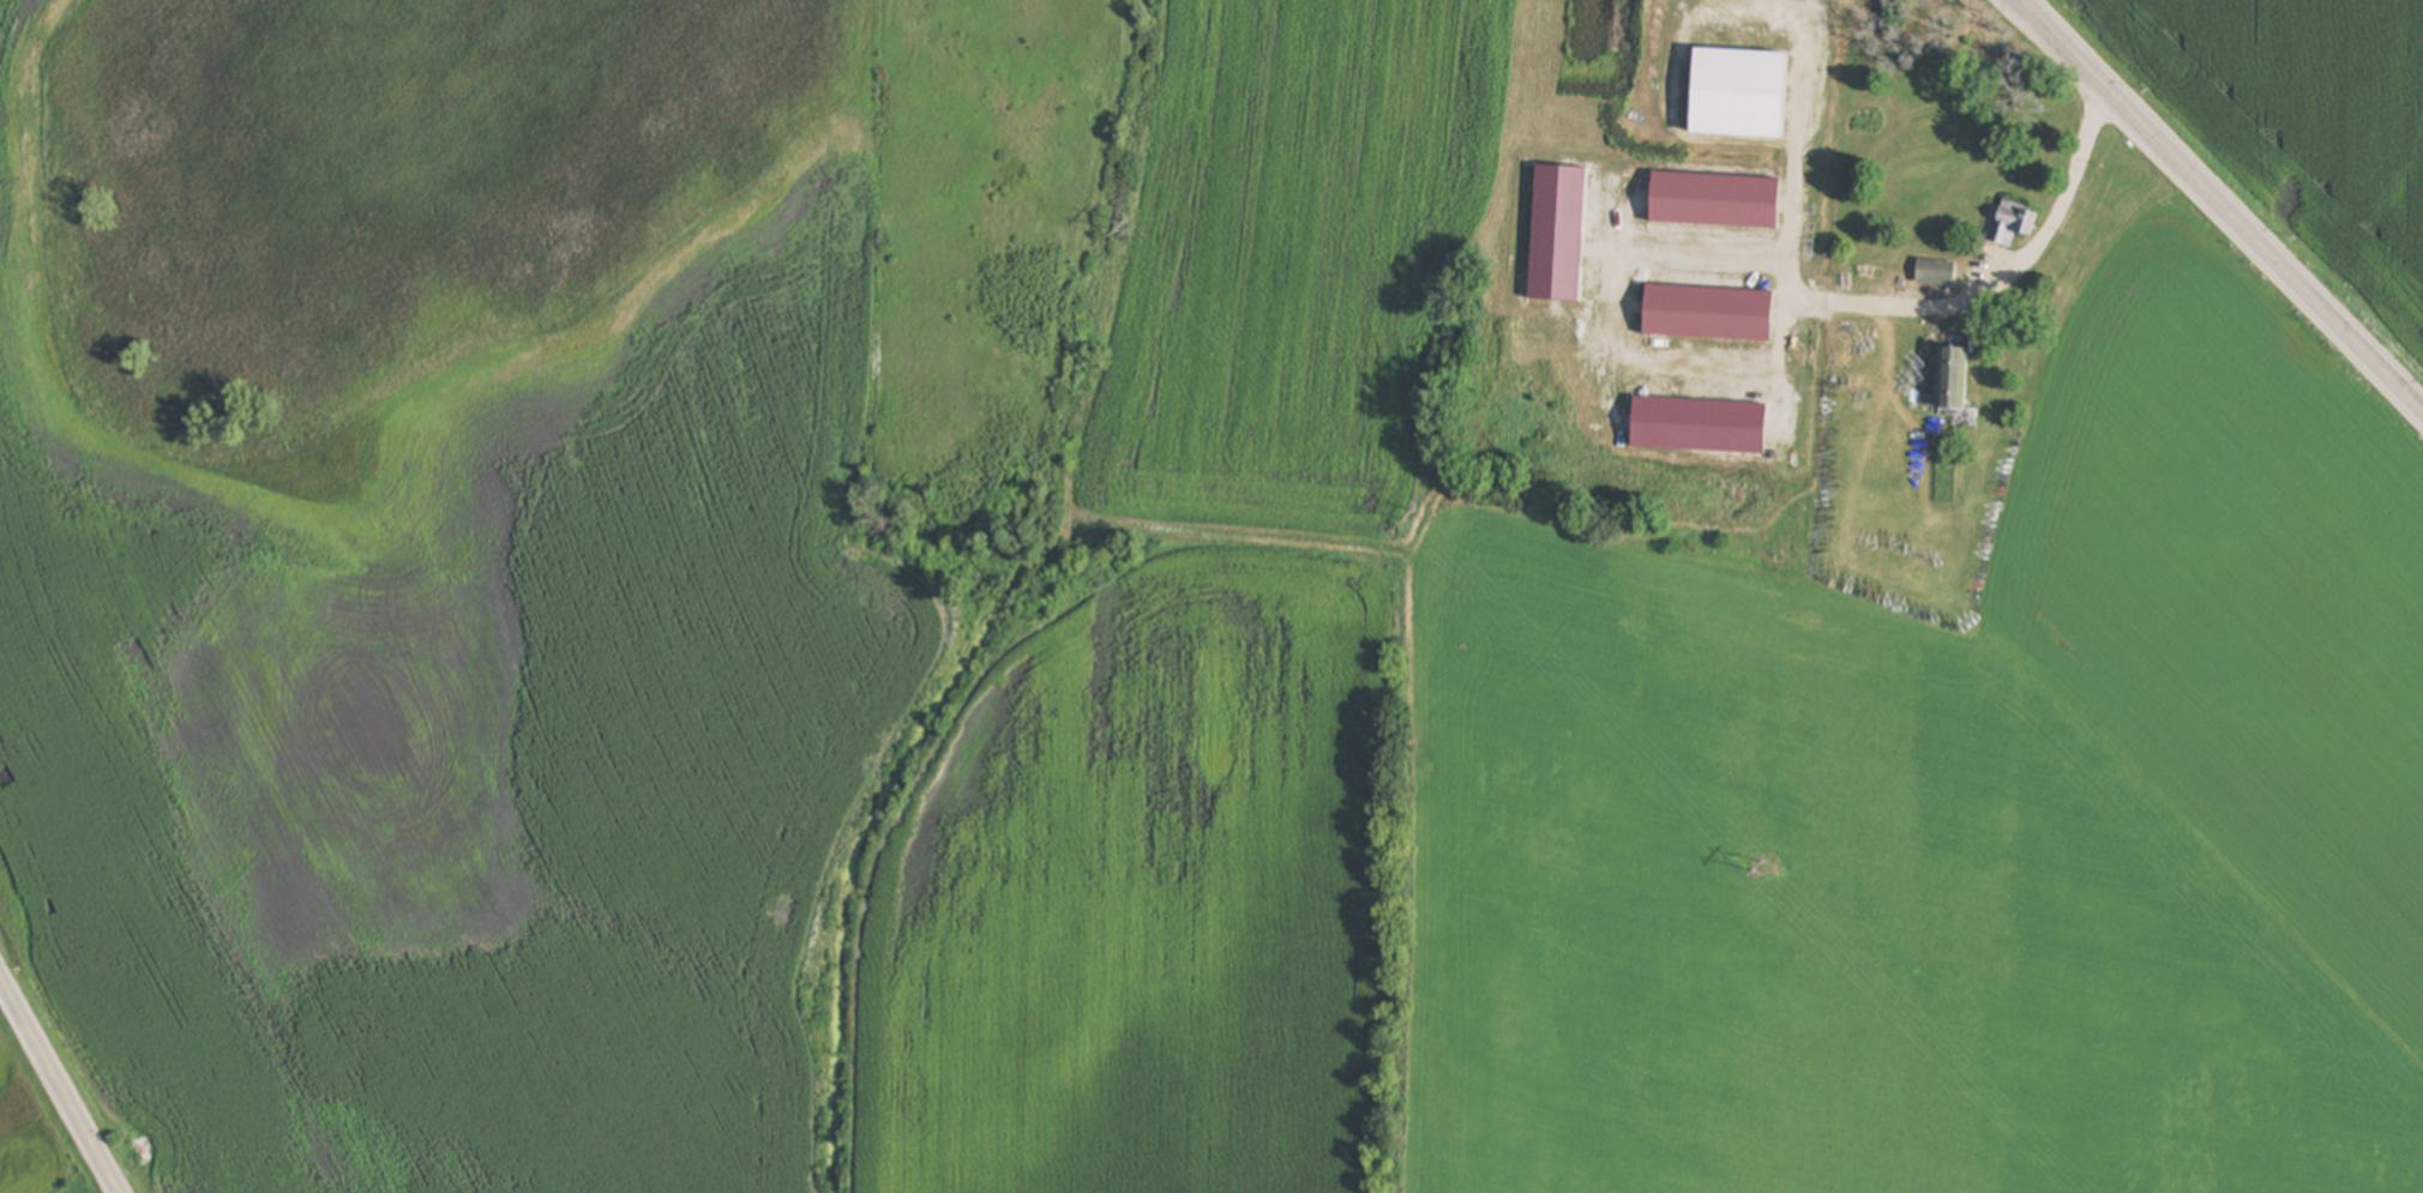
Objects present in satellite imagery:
road: (2225, 200)
building: (2015, 224)
building: (1937, 275)
road: (1878, 303)
road: (1605, 342)
building: (1956, 387)
road: (59, 1084)

